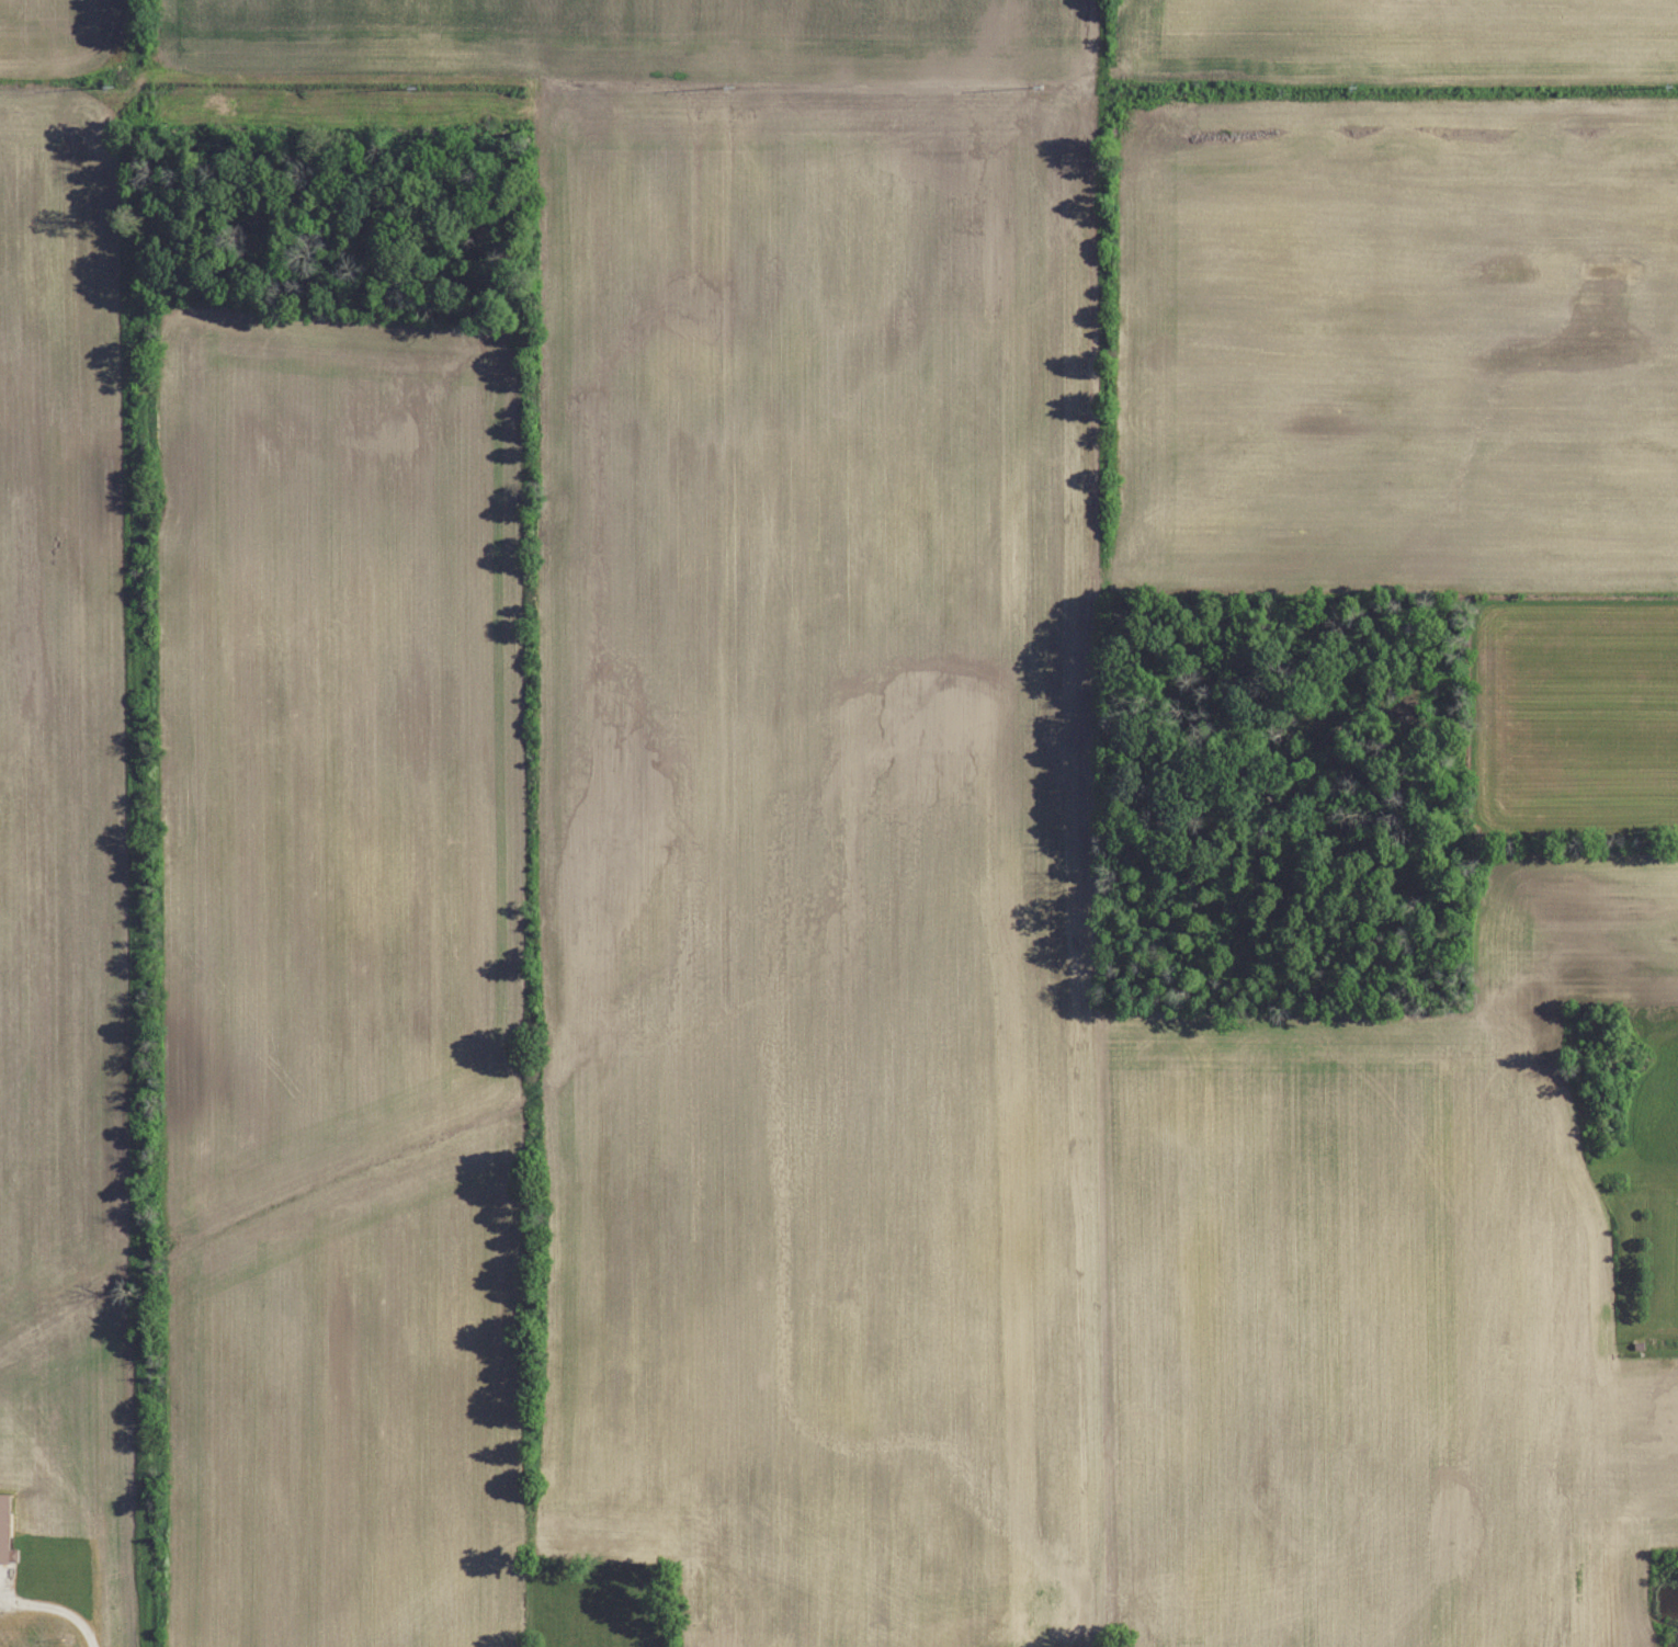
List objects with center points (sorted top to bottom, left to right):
building: (4, 1532)
road: (56, 1606)

